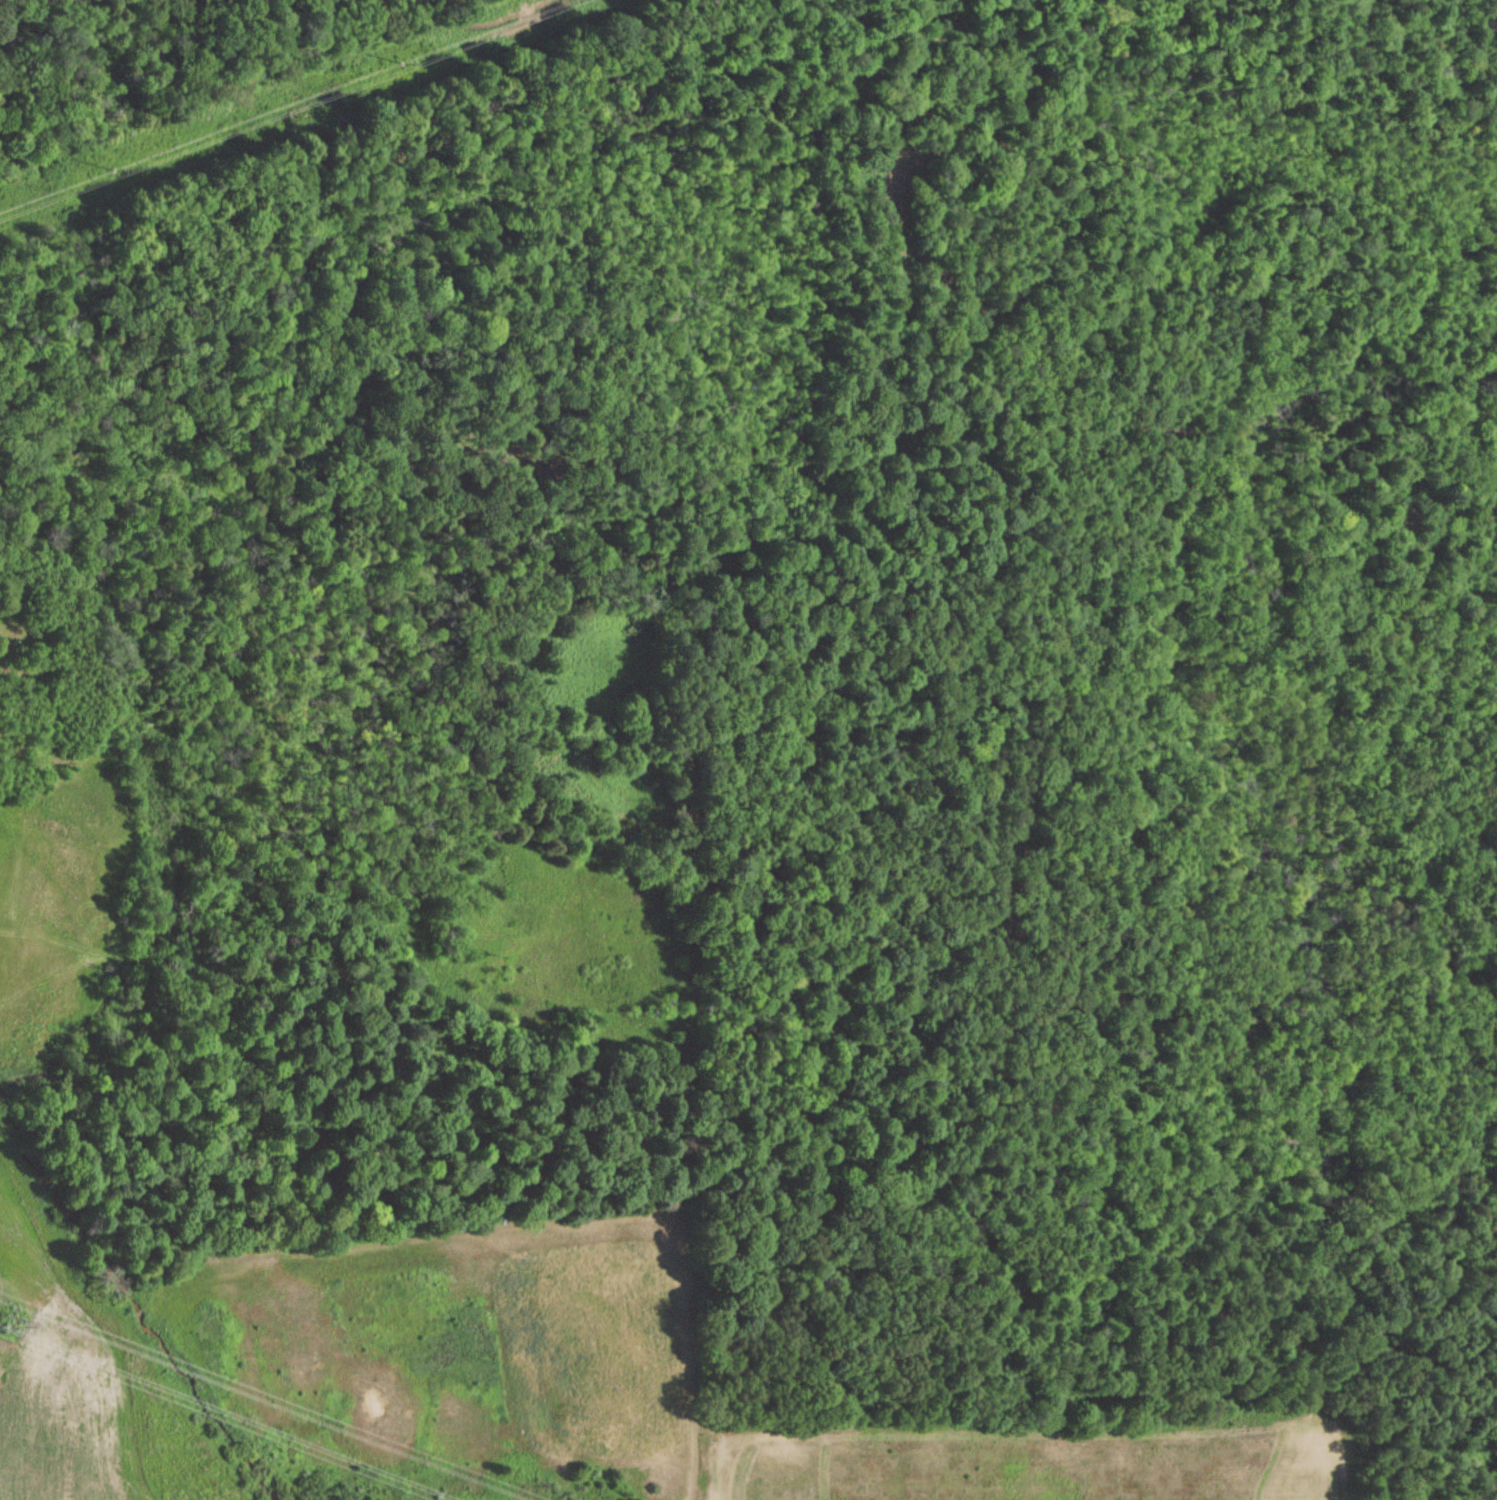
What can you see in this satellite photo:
power tower: (12, 1321)

